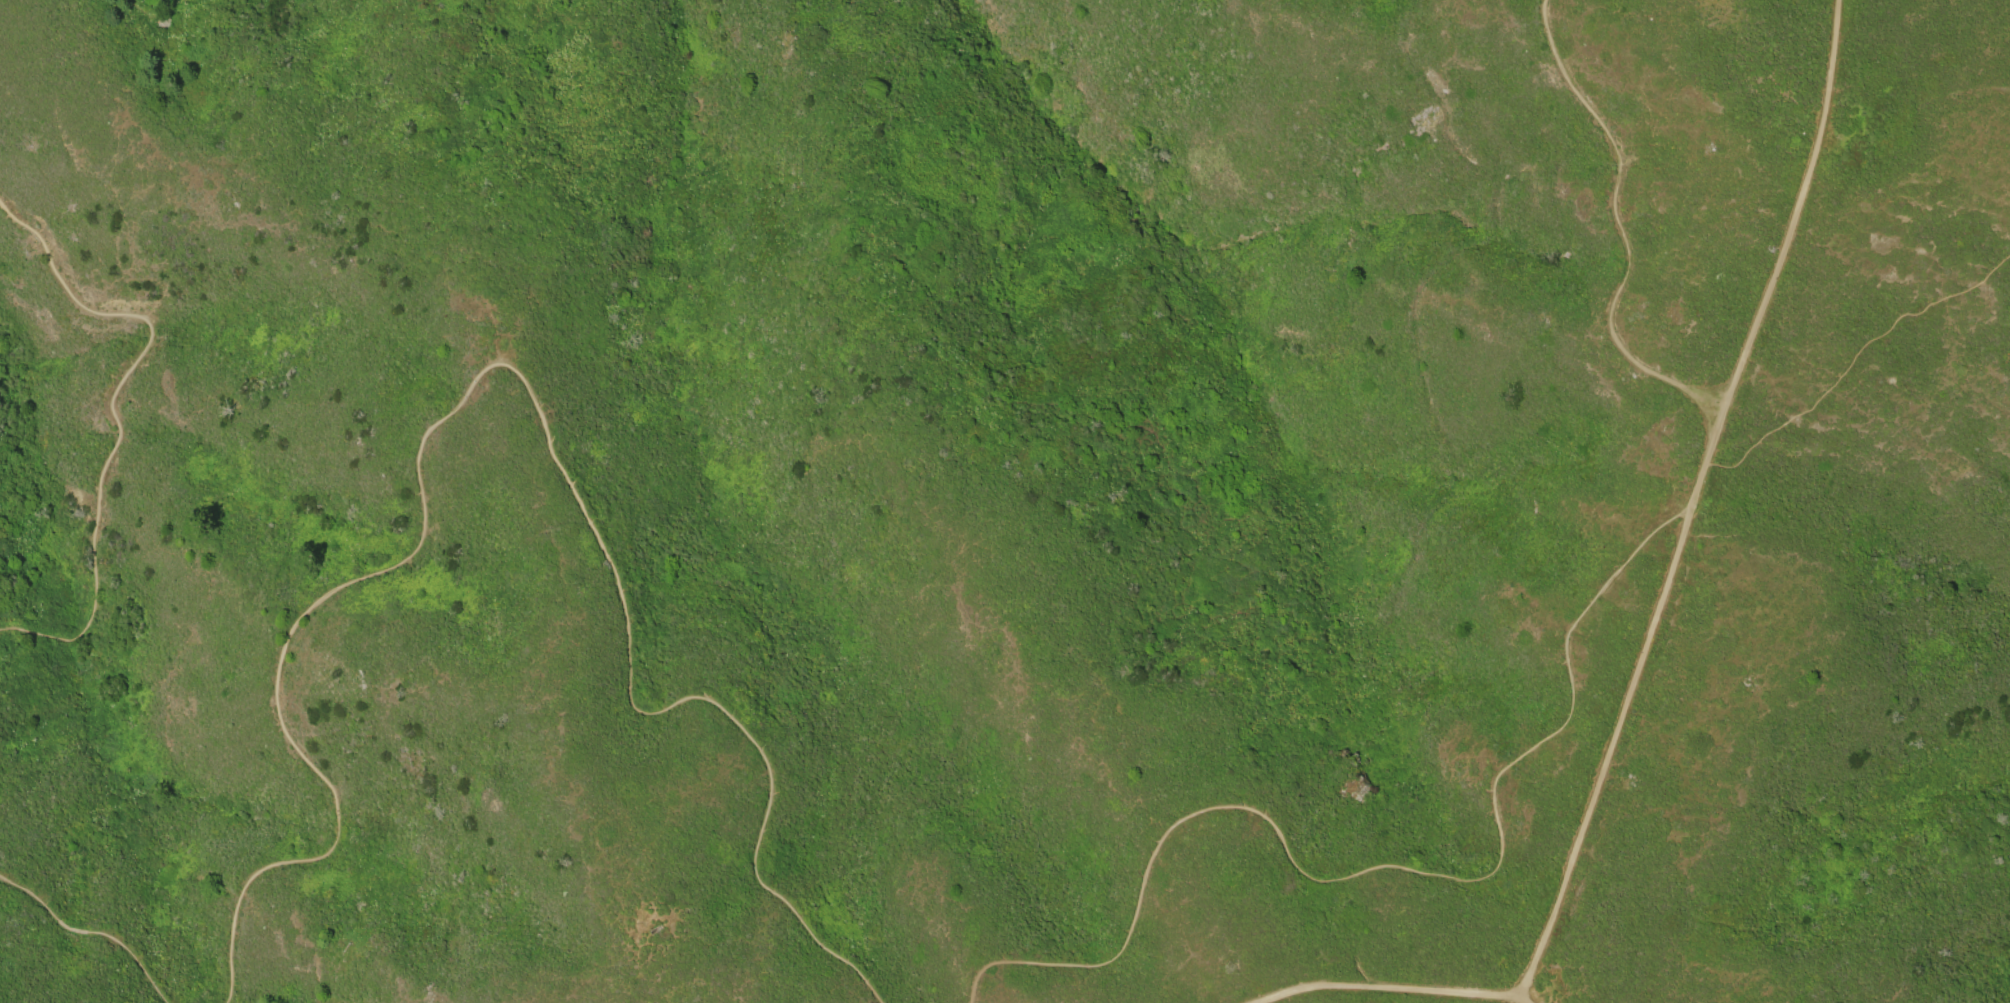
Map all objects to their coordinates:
road: (1616, 228)
road: (1775, 255)
road: (1852, 359)
road: (499, 364)
road: (113, 417)
road: (1608, 752)
road: (1380, 865)
road: (89, 932)
road: (1386, 989)
road: (1522, 1000)

